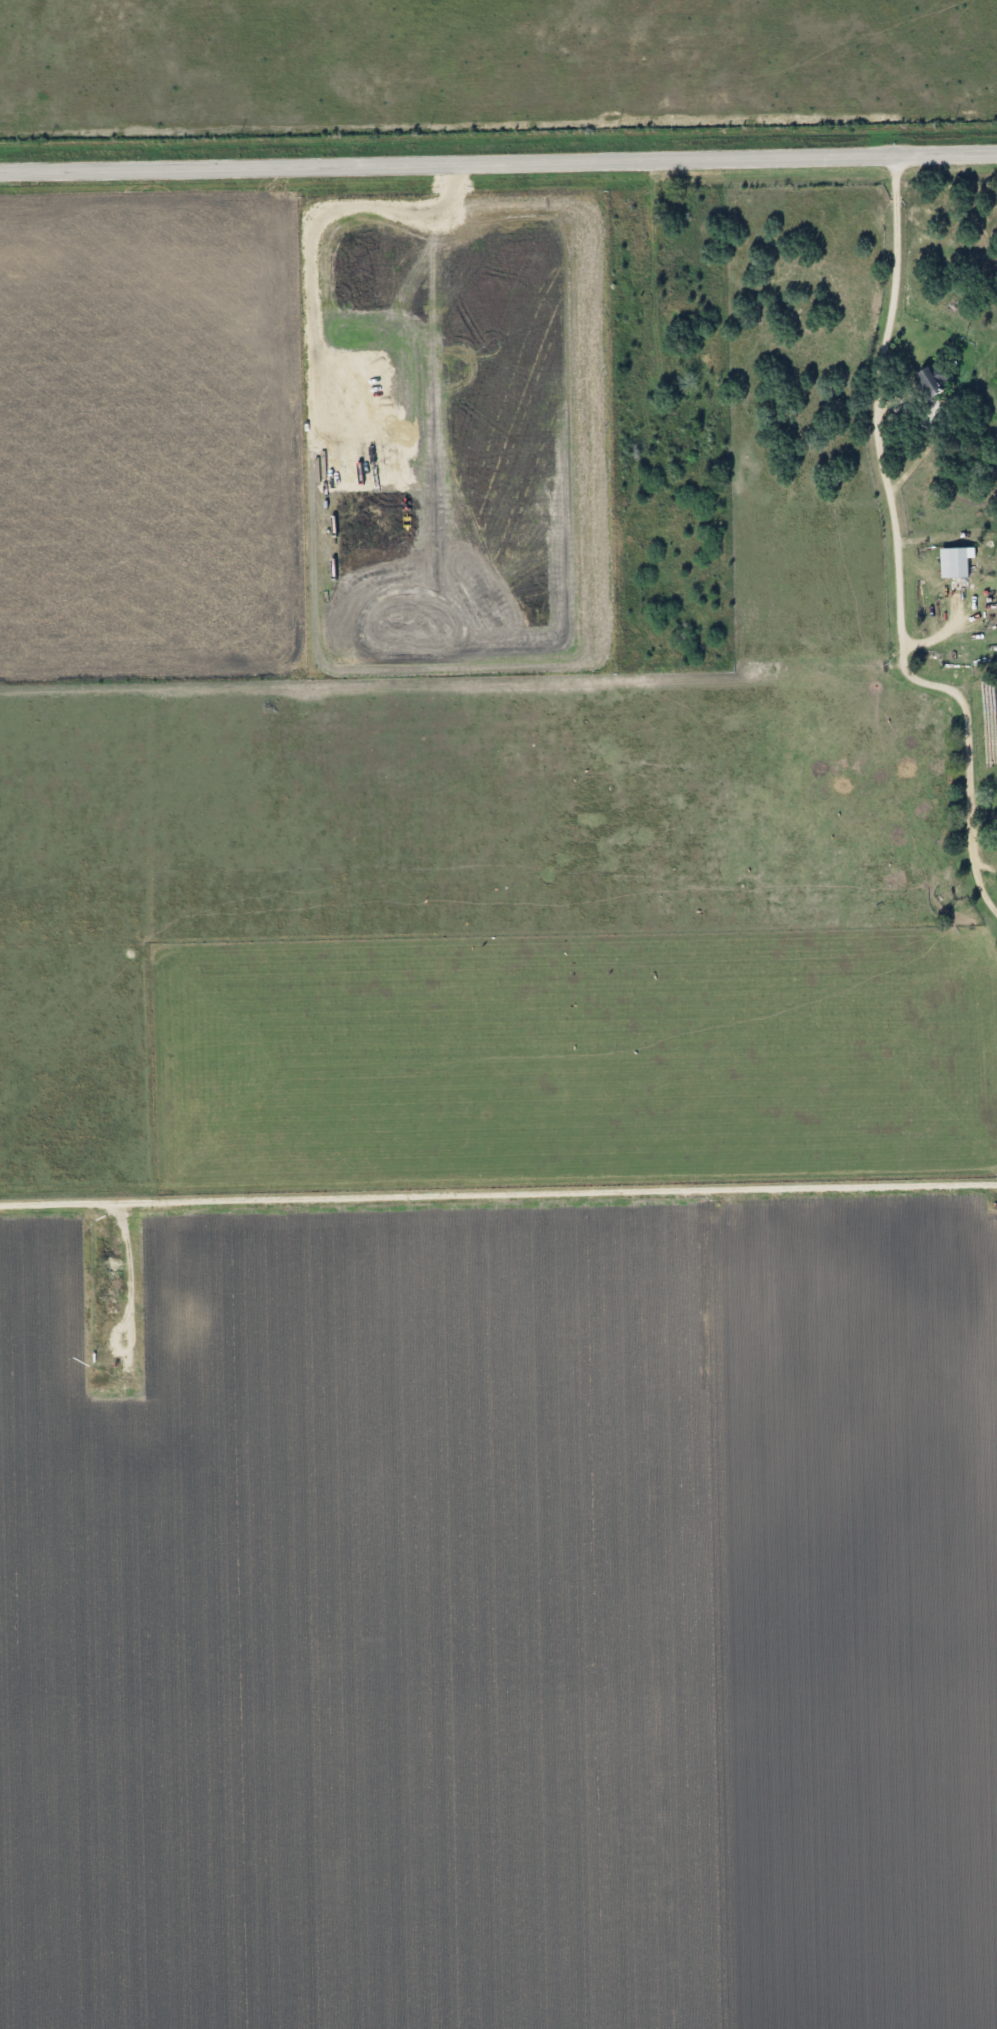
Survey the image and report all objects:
road: (498, 151)
building: (926, 381)
road: (883, 553)
building: (951, 563)
building: (996, 829)
road: (498, 1178)

